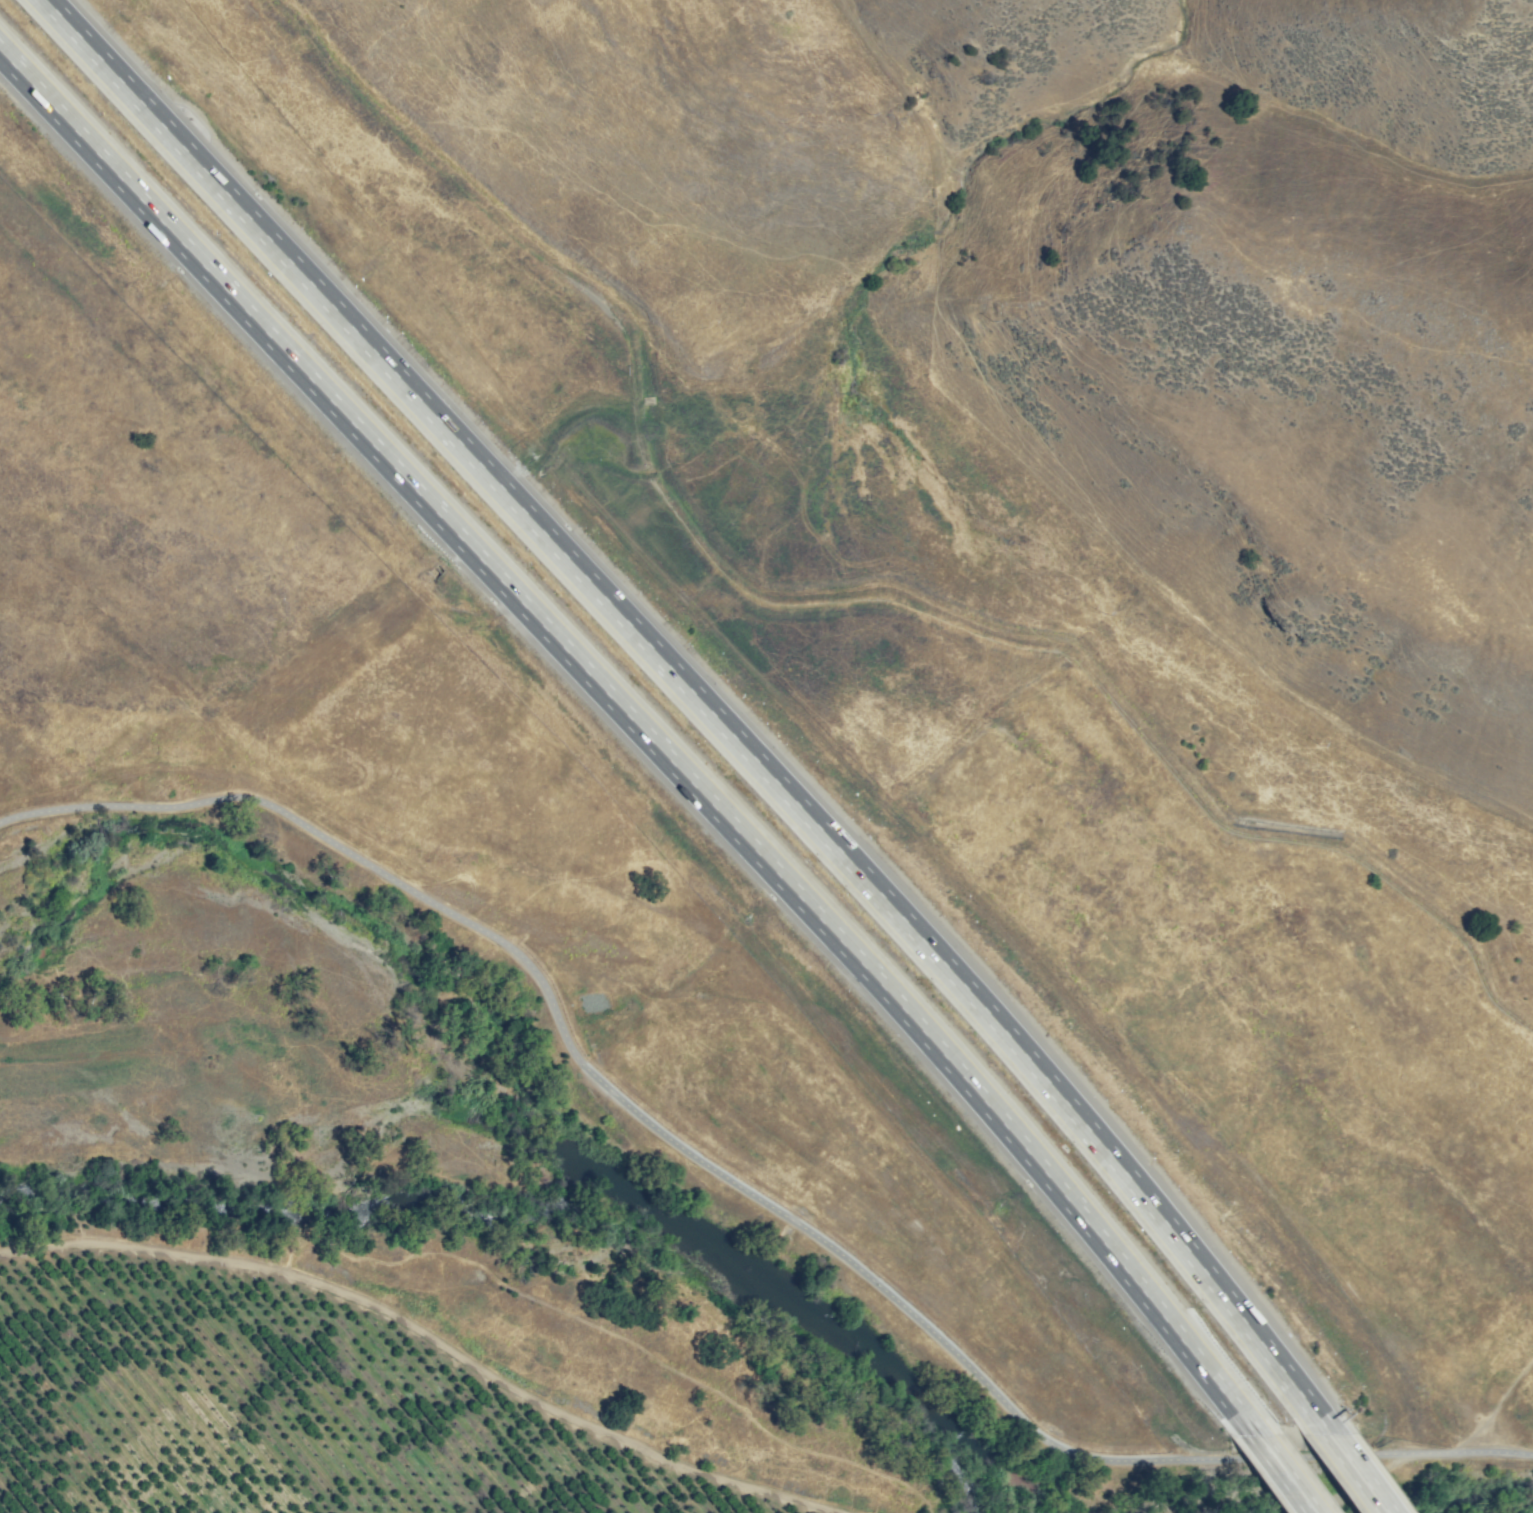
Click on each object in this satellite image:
power tower: (868, 114)
power tower: (989, 324)
park: (148, 492)
power tower: (1103, 613)
road: (1091, 681)
road: (703, 703)
road: (643, 733)
power tower: (1319, 744)
road: (1205, 1063)
road: (734, 1187)
road: (429, 1338)
road: (1483, 1389)
crop: (830, 1447)
road: (1358, 1474)
road: (1284, 1476)

